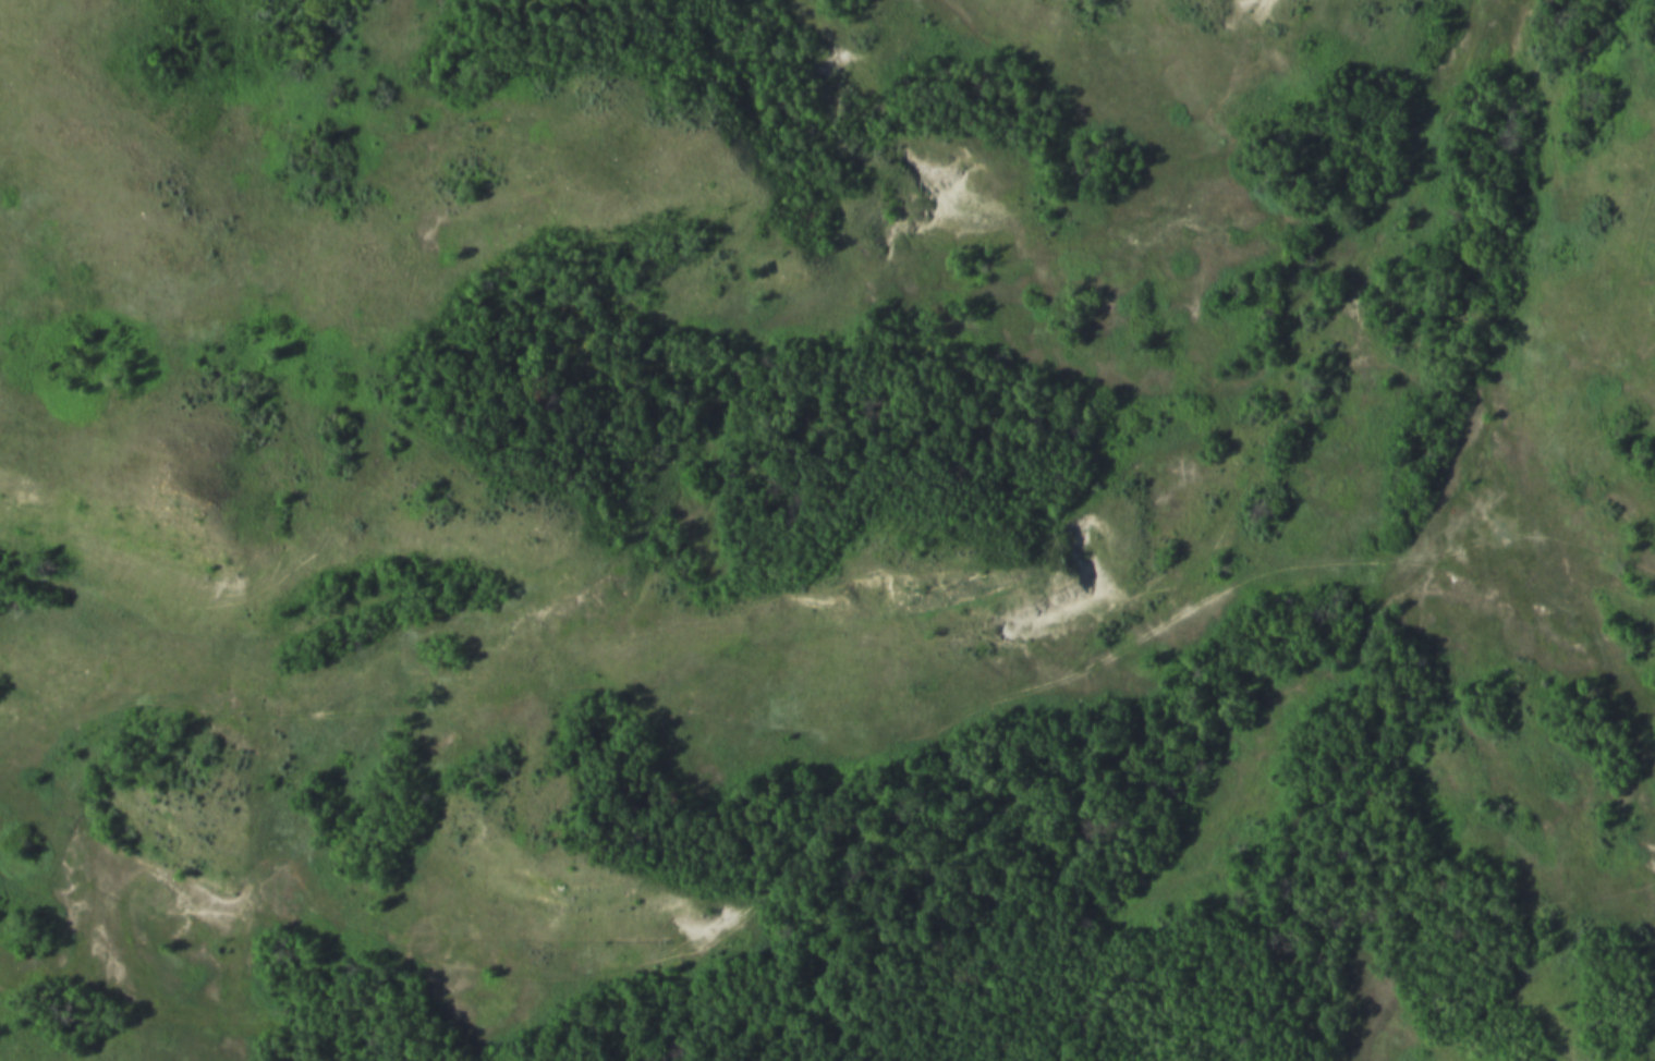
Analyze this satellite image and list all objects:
road: (754, 724)

